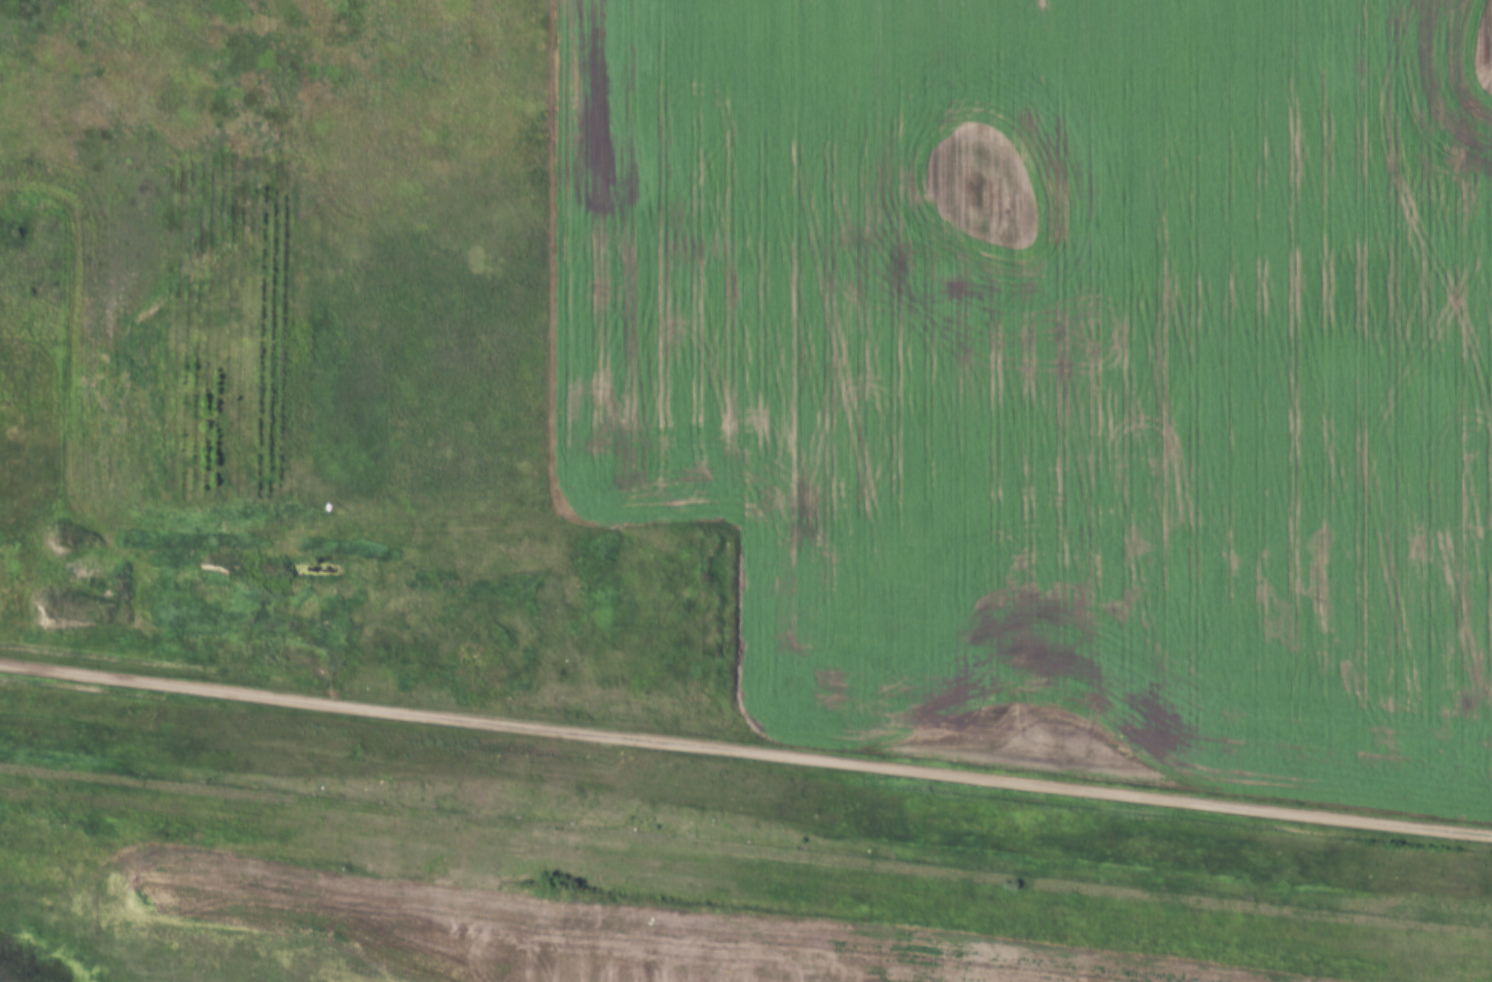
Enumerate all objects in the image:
road: (745, 744)

